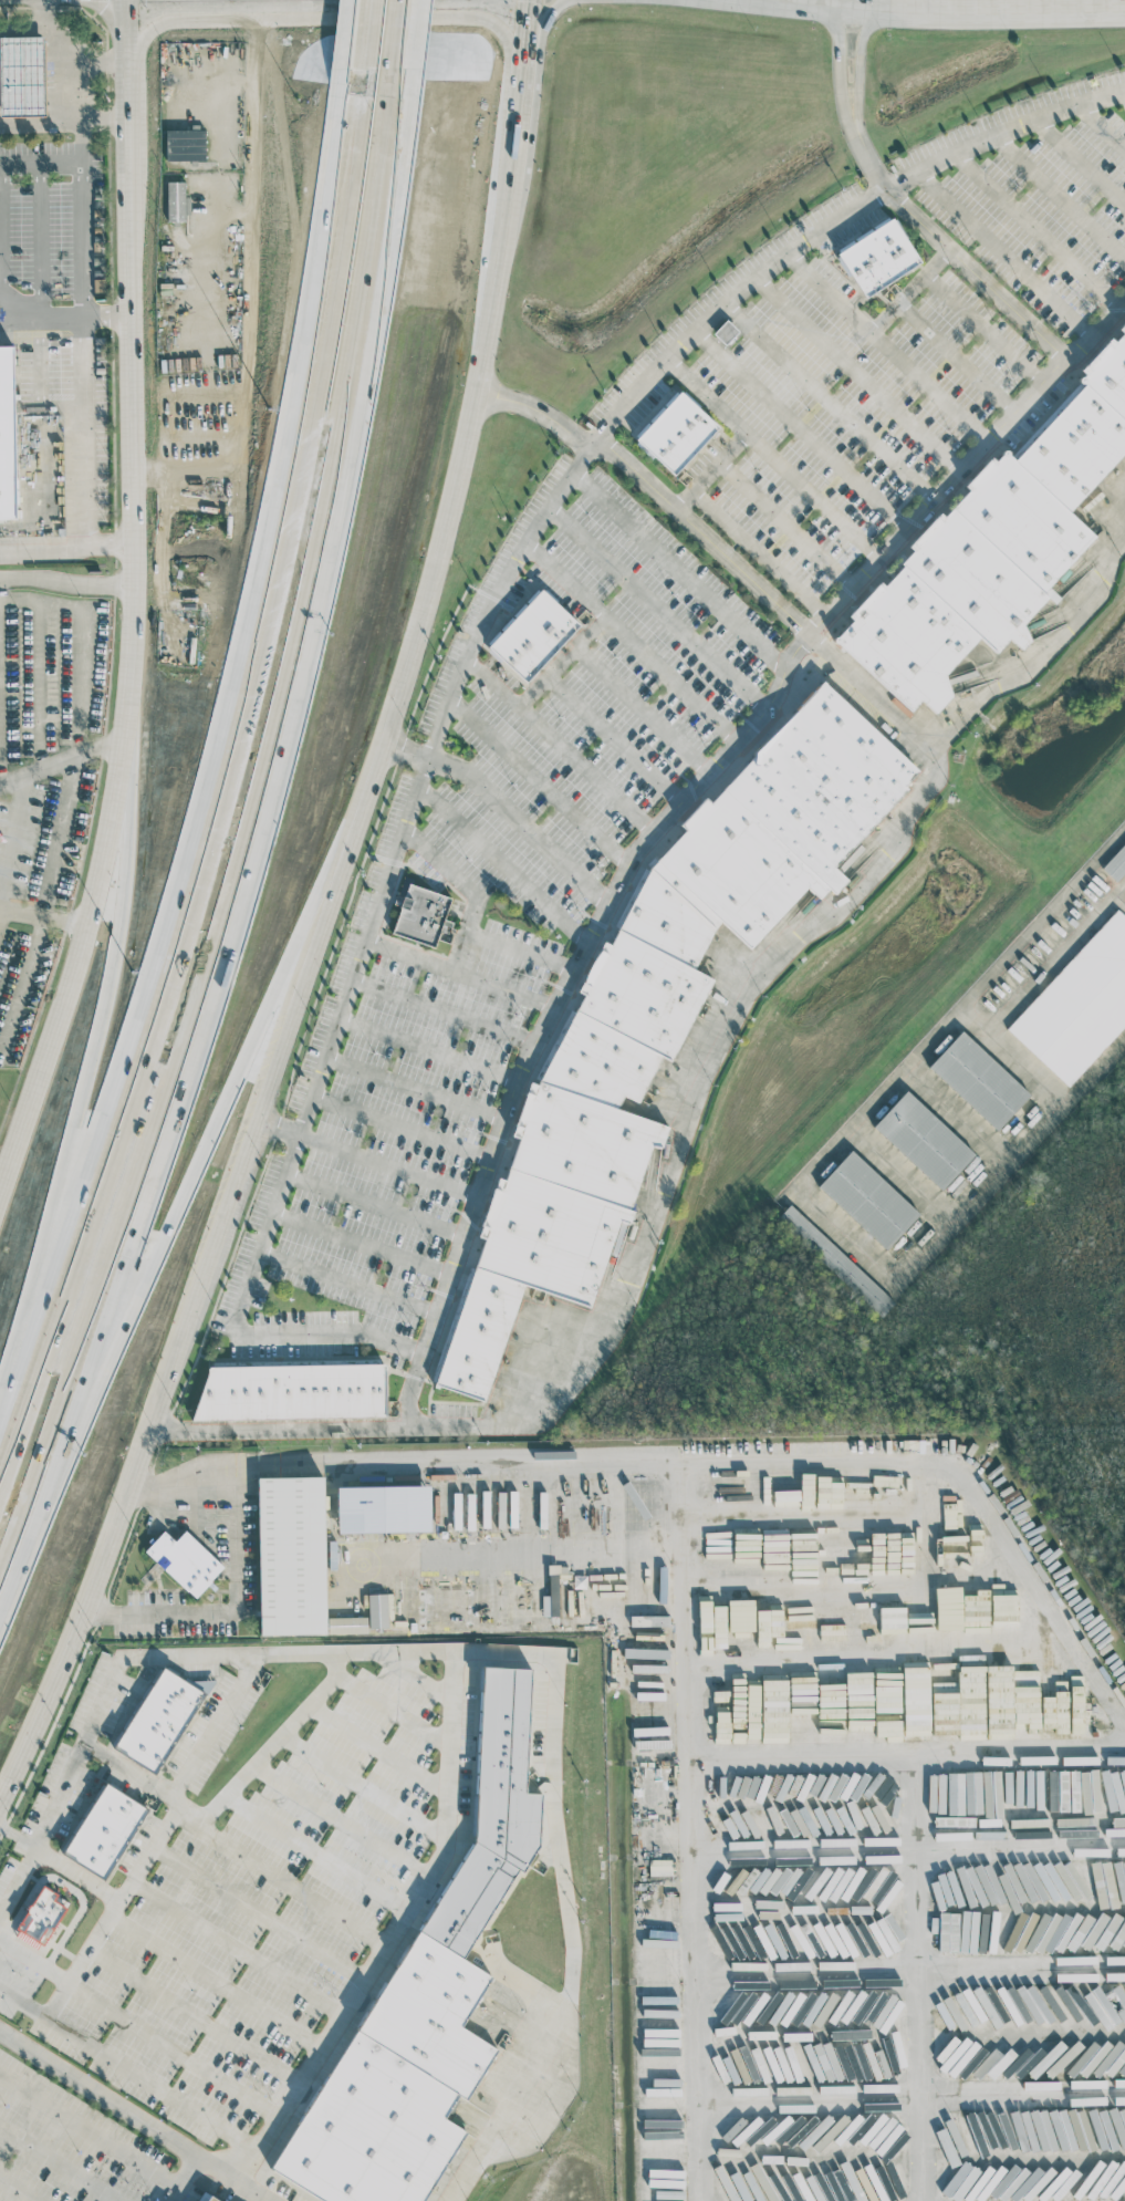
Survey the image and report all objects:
road: (809, 3)
road: (838, 3)
road: (981, 11)
road: (40, 13)
road: (331, 15)
road: (537, 33)
road: (523, 37)
road: (360, 38)
road: (389, 38)
road: (103, 62)
road: (77, 70)
road: (858, 70)
road: (838, 72)
building: (22, 74)
road: (518, 101)
road: (64, 120)
road: (1103, 122)
road: (1002, 132)
building: (185, 144)
road: (515, 146)
road: (1082, 158)
road: (1060, 196)
building: (176, 200)
road: (81, 203)
parking lot: (1041, 206)
road: (1037, 228)
parking lot: (53, 232)
road: (1002, 252)
building: (877, 258)
road: (832, 297)
road: (249, 298)
road: (63, 316)
building: (726, 331)
road: (990, 333)
road: (1092, 334)
road: (898, 355)
road: (962, 362)
road: (865, 378)
road: (1052, 398)
road: (705, 399)
road: (837, 405)
parking lot: (838, 416)
building: (675, 432)
road: (808, 435)
road: (587, 454)
road: (775, 460)
road: (84, 468)
building: (31, 482)
road: (791, 528)
building: (990, 550)
road: (764, 558)
road: (66, 561)
road: (684, 573)
road: (66, 596)
road: (658, 608)
road: (133, 610)
building: (534, 633)
road: (592, 660)
road: (673, 676)
road: (37, 689)
road: (983, 698)
road: (522, 699)
road: (615, 741)
road: (587, 771)
road: (61, 778)
building: (823, 780)
road: (543, 785)
road: (1, 786)
road: (227, 788)
road: (238, 824)
road: (524, 824)
road: (10, 840)
road: (54, 844)
road: (1108, 847)
road: (506, 866)
building: (735, 869)
parking lot: (497, 890)
road: (1119, 897)
road: (1, 902)
road: (1, 910)
road: (49, 916)
building: (420, 920)
road: (466, 926)
road: (1027, 935)
road: (597, 937)
road: (457, 953)
road: (1054, 955)
road: (361, 975)
road: (467, 976)
road: (300, 1001)
building: (1074, 1003)
road: (451, 1010)
road: (434, 1050)
road: (93, 1059)
road: (1023, 1067)
building: (976, 1080)
road: (419, 1088)
road: (958, 1113)
road: (686, 1127)
road: (404, 1128)
building: (580, 1134)
building: (920, 1140)
road: (389, 1165)
road: (902, 1174)
road: (3, 1183)
building: (864, 1197)
road: (375, 1205)
road: (176, 1215)
road: (363, 1243)
building: (835, 1259)
road: (877, 1268)
road: (348, 1280)
road: (236, 1322)
building: (292, 1393)
road: (192, 1477)
road: (909, 1505)
building: (424, 1512)
building: (348, 1516)
building: (976, 1548)
building: (292, 1554)
building: (348, 1554)
building: (185, 1560)
building: (610, 1587)
road: (1028, 1589)
building: (551, 1602)
road: (230, 1607)
road: (487, 1648)
building: (1012, 1700)
building: (160, 1719)
building: (916, 1719)
road: (268, 1751)
road: (906, 1754)
road: (187, 1768)
road: (688, 1828)
building: (105, 1831)
road: (279, 1879)
road: (259, 1911)
building: (42, 1916)
road: (404, 1916)
road: (238, 1945)
road: (216, 1981)
building: (428, 1996)
road: (23, 2005)
building: (1102, 2007)
road: (195, 2014)
road: (52, 2024)
road: (174, 2049)
road: (910, 2094)
road: (135, 2116)
road: (90, 2125)
road: (4, 2128)
road: (56, 2160)
road: (184, 2178)
road: (15, 2190)
building: (207, 2200)

